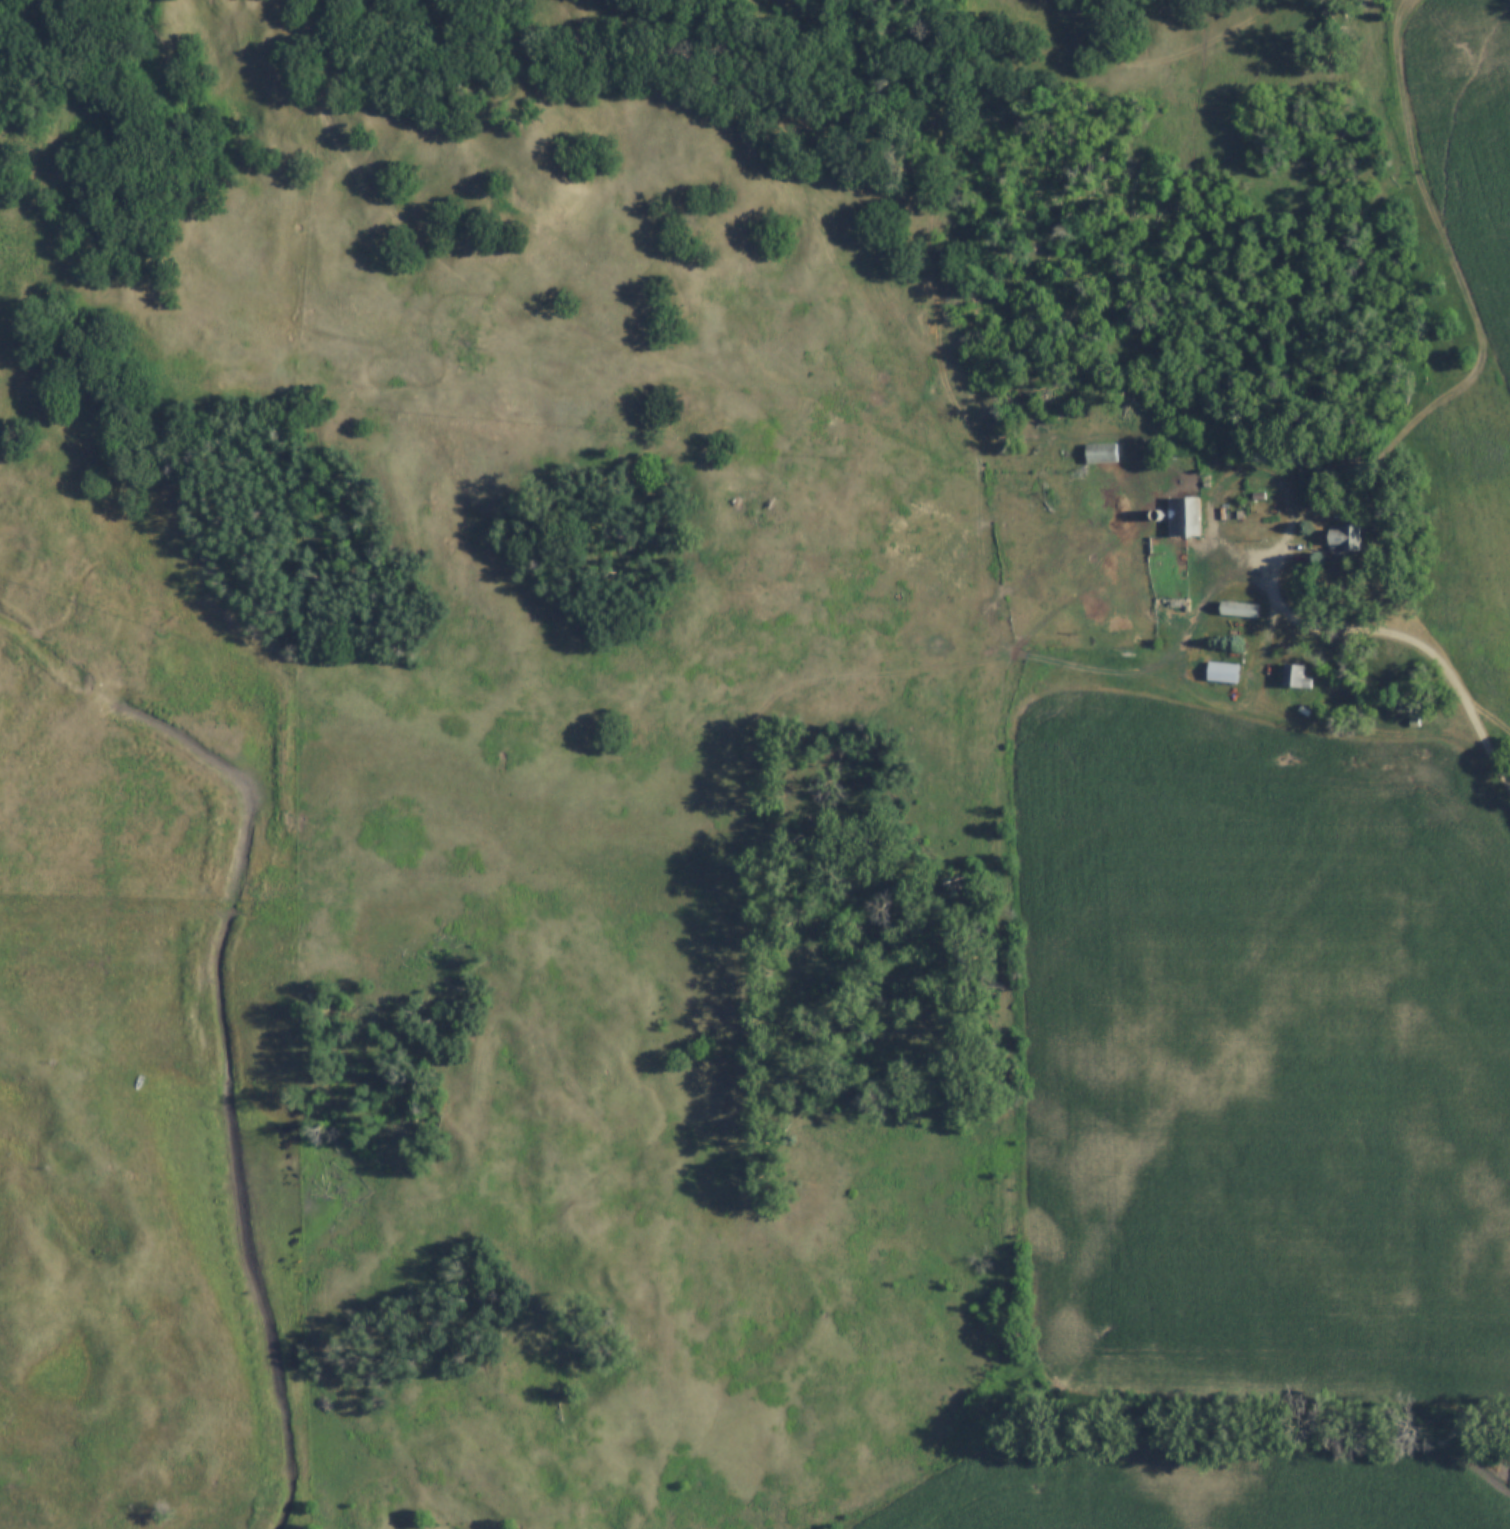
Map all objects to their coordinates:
road: (1404, 17)
building: (1098, 453)
building: (1182, 517)
building: (1341, 540)
road: (1451, 670)
building: (1220, 672)
building: (1293, 677)

